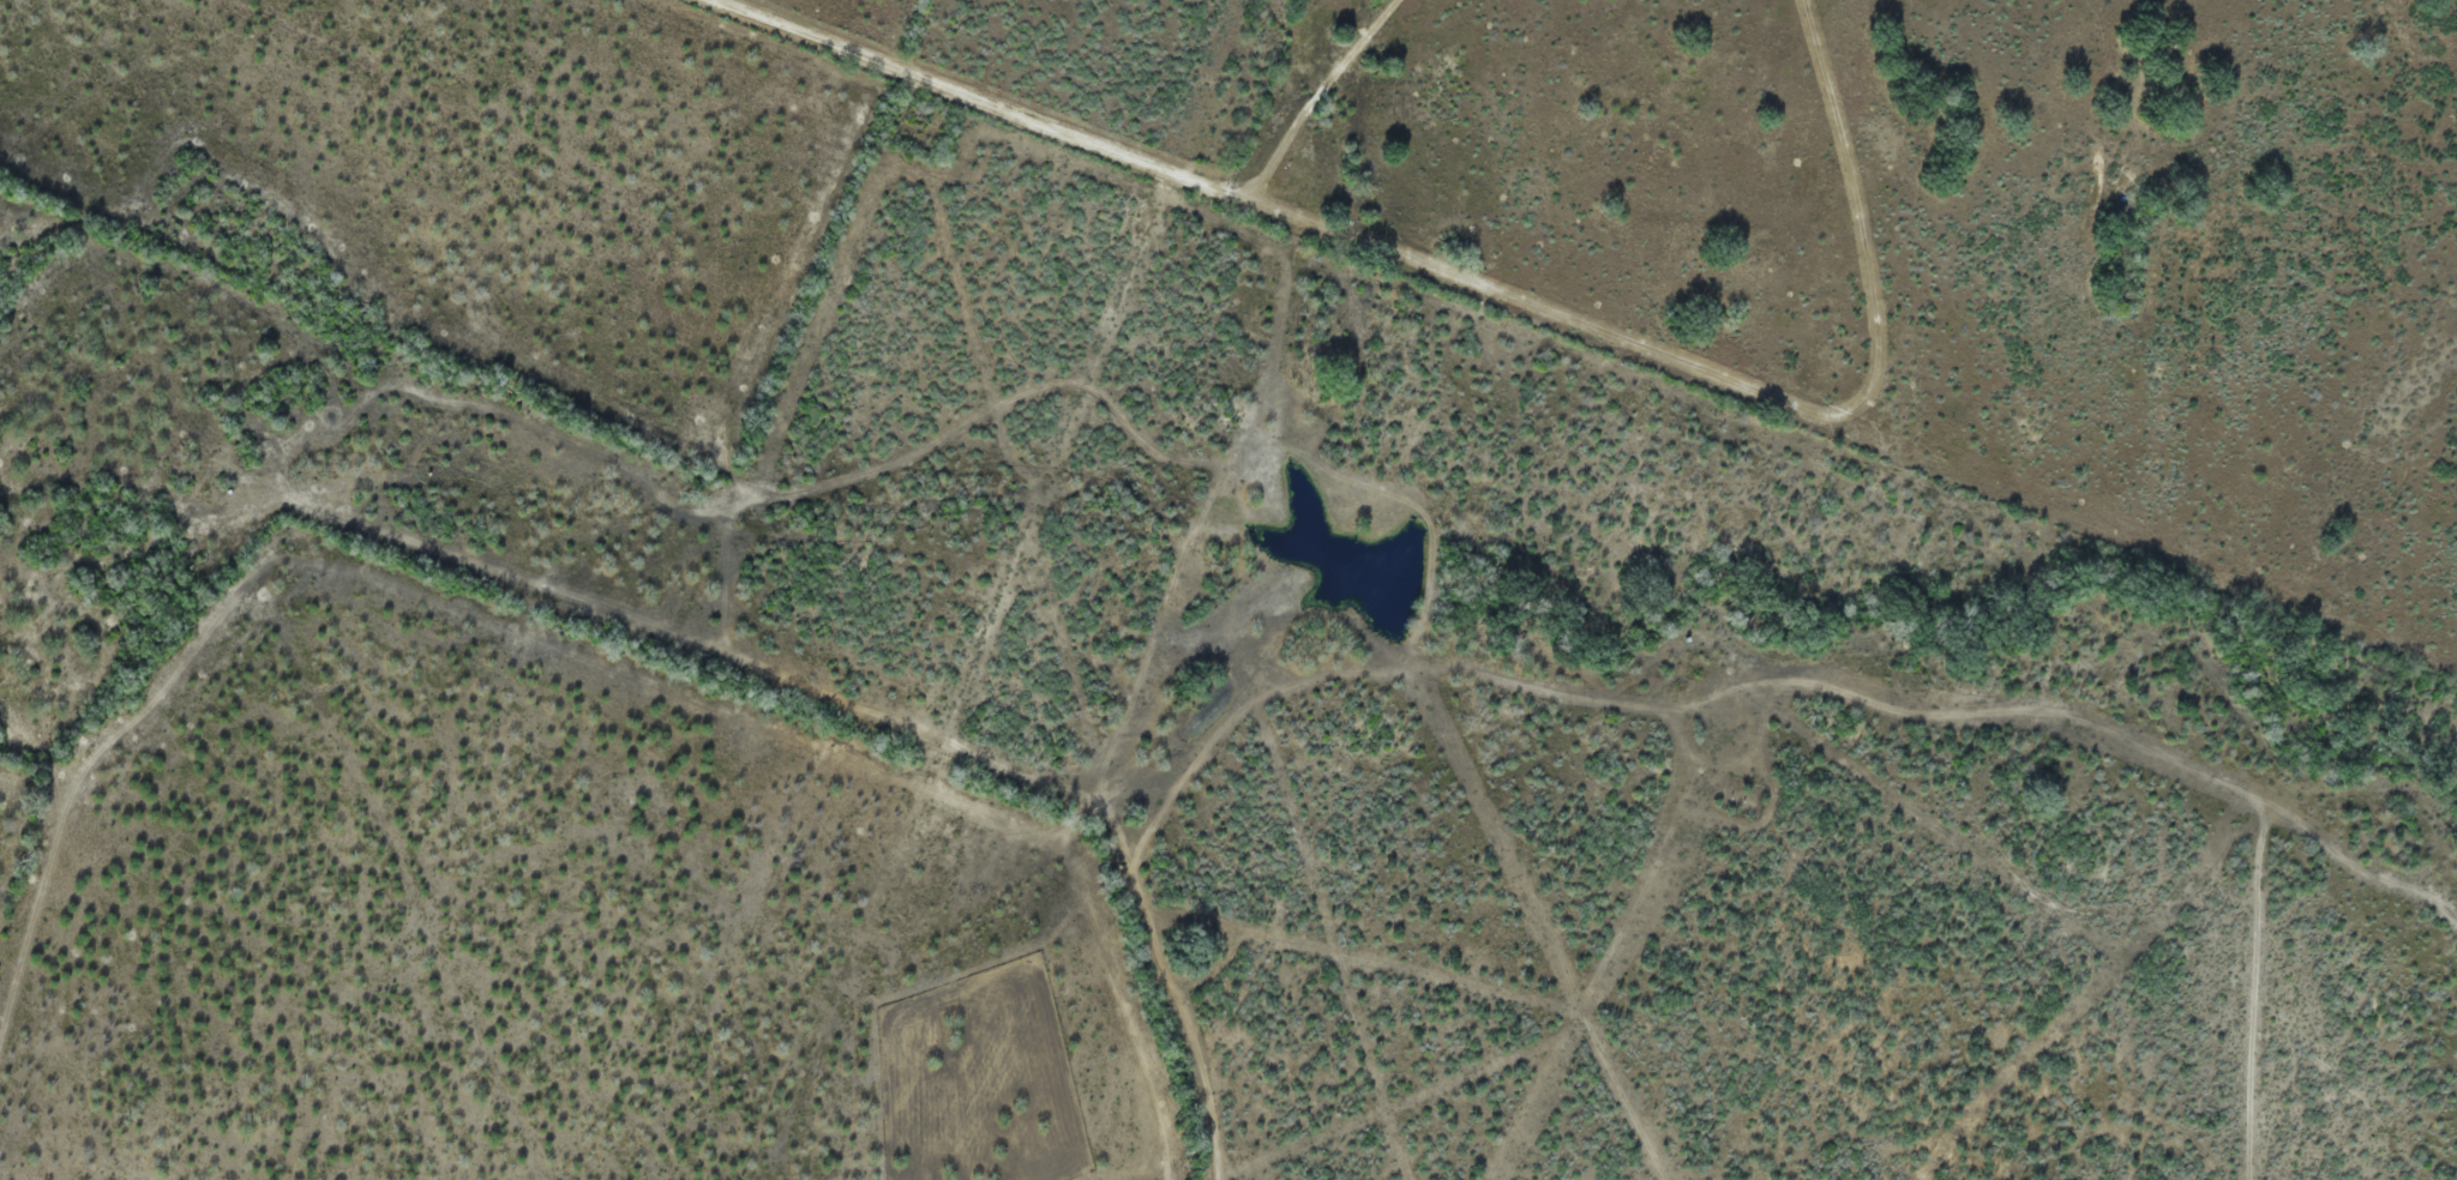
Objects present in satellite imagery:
road: (975, 101)

